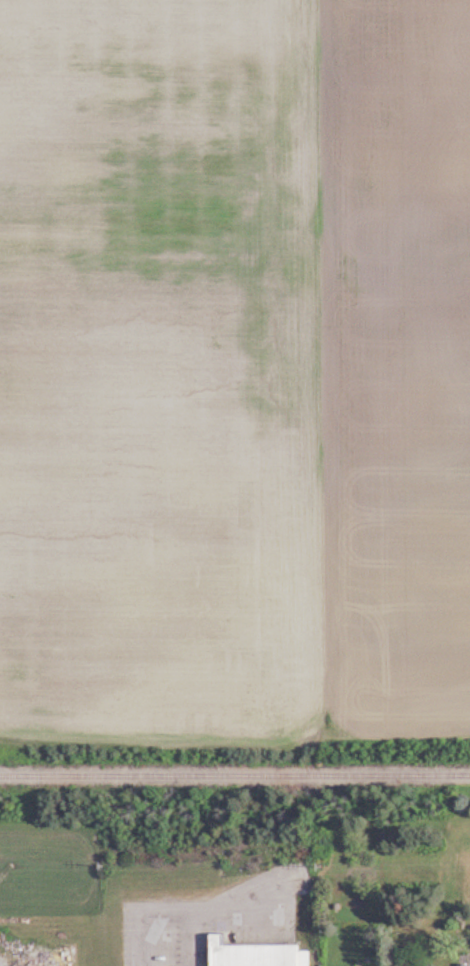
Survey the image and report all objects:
railway: (235, 777)
building: (258, 955)

